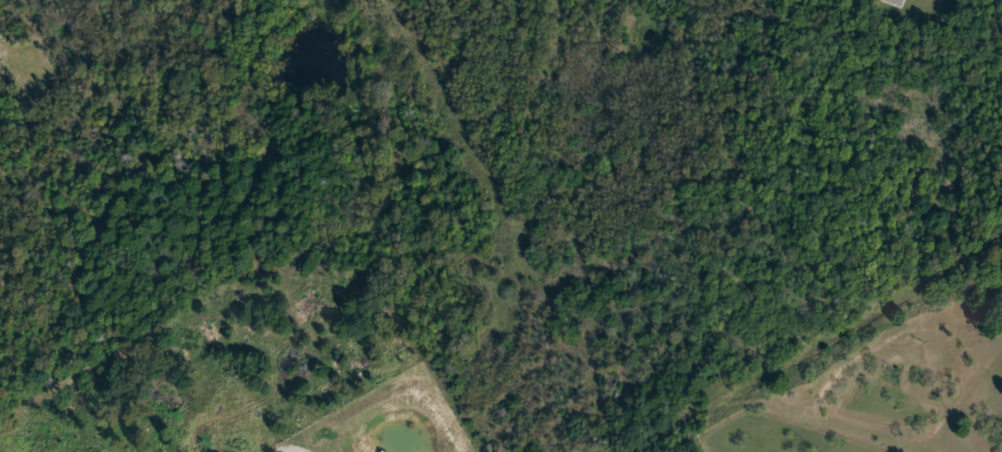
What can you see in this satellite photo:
building: (897, 2)
road: (815, 343)

